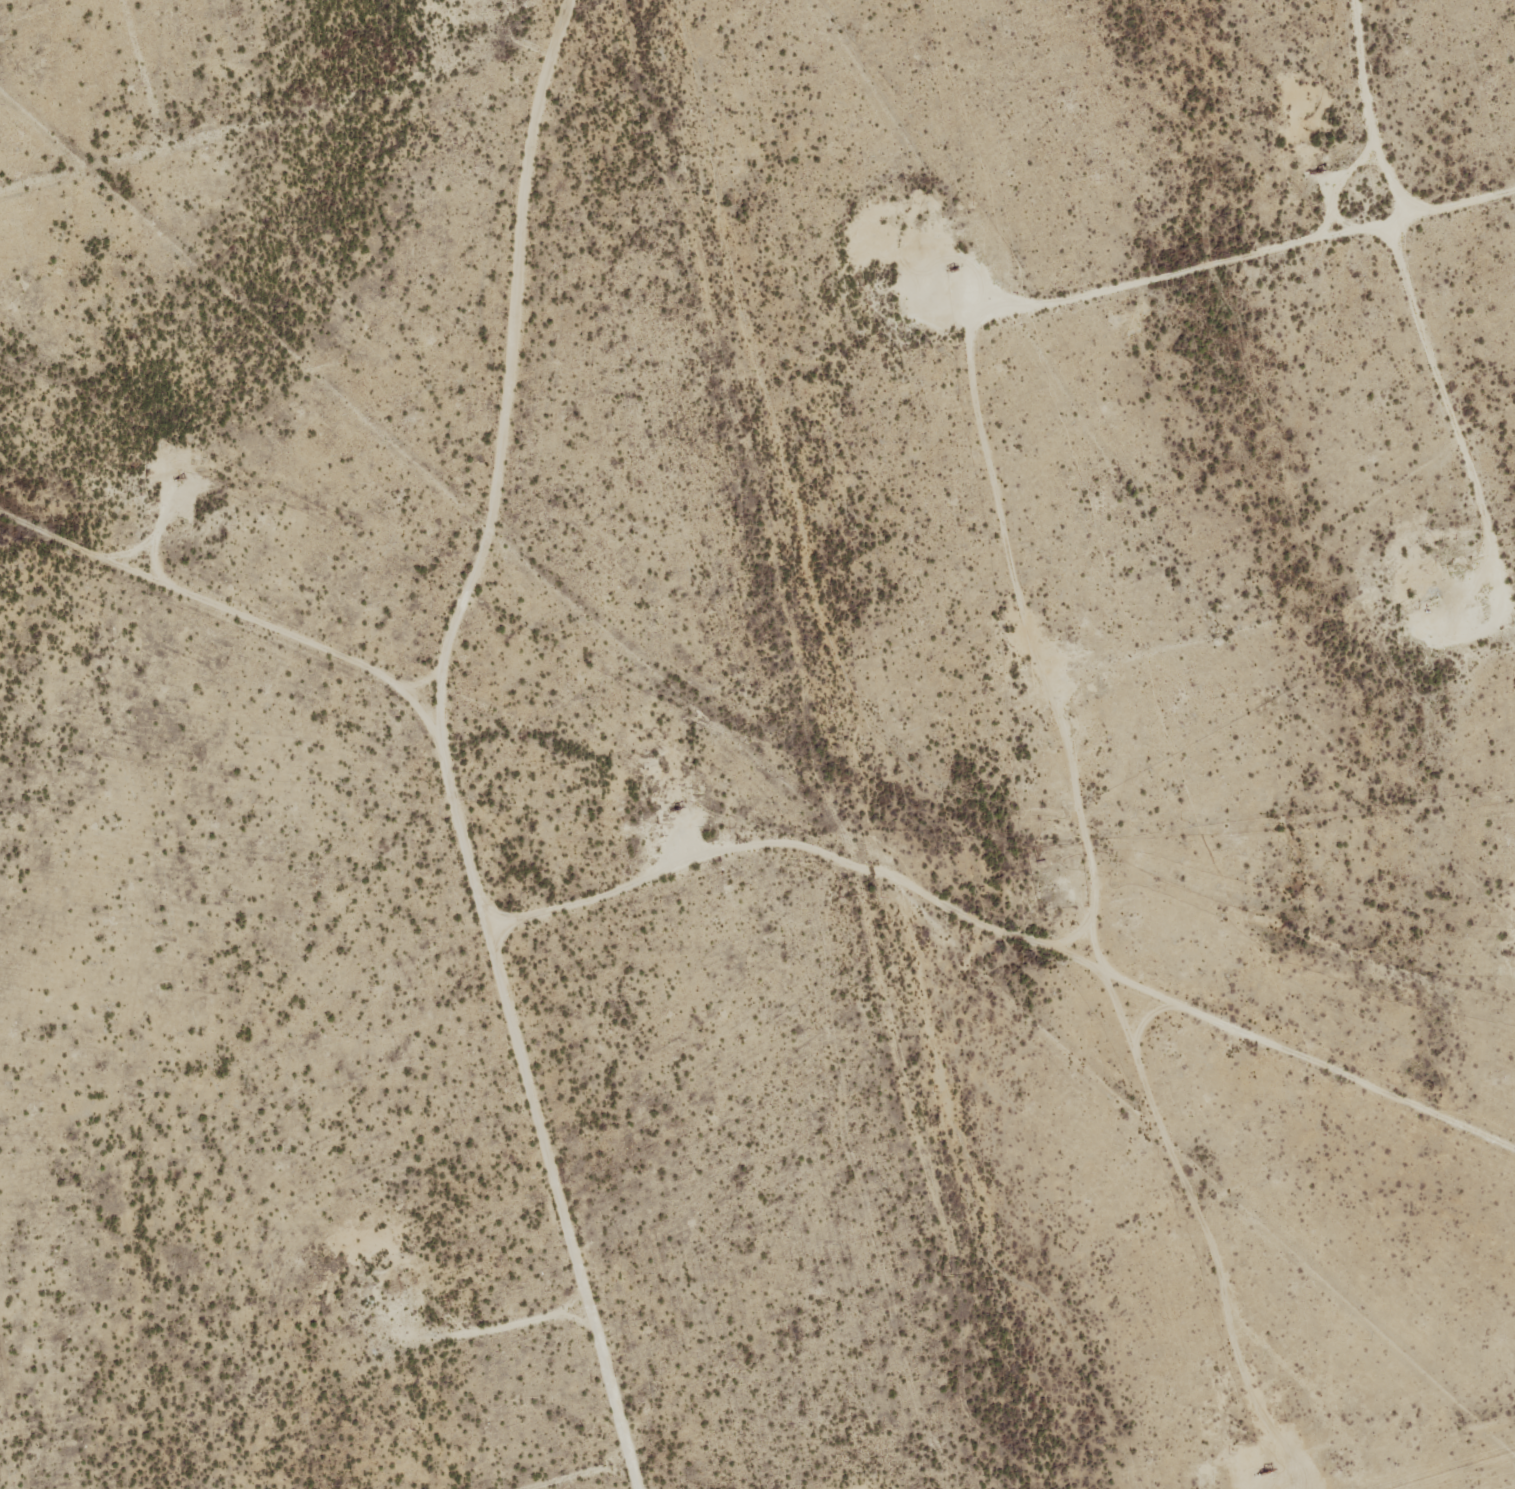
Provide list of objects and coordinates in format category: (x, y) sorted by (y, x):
power tower: (634, 133)
road: (539, 272)
road: (270, 274)
power tower: (738, 515)
road: (480, 568)
road: (475, 868)
road: (974, 869)
road: (608, 894)
power tower: (842, 895)
road: (981, 920)
power tower: (944, 1276)
road: (579, 1474)

